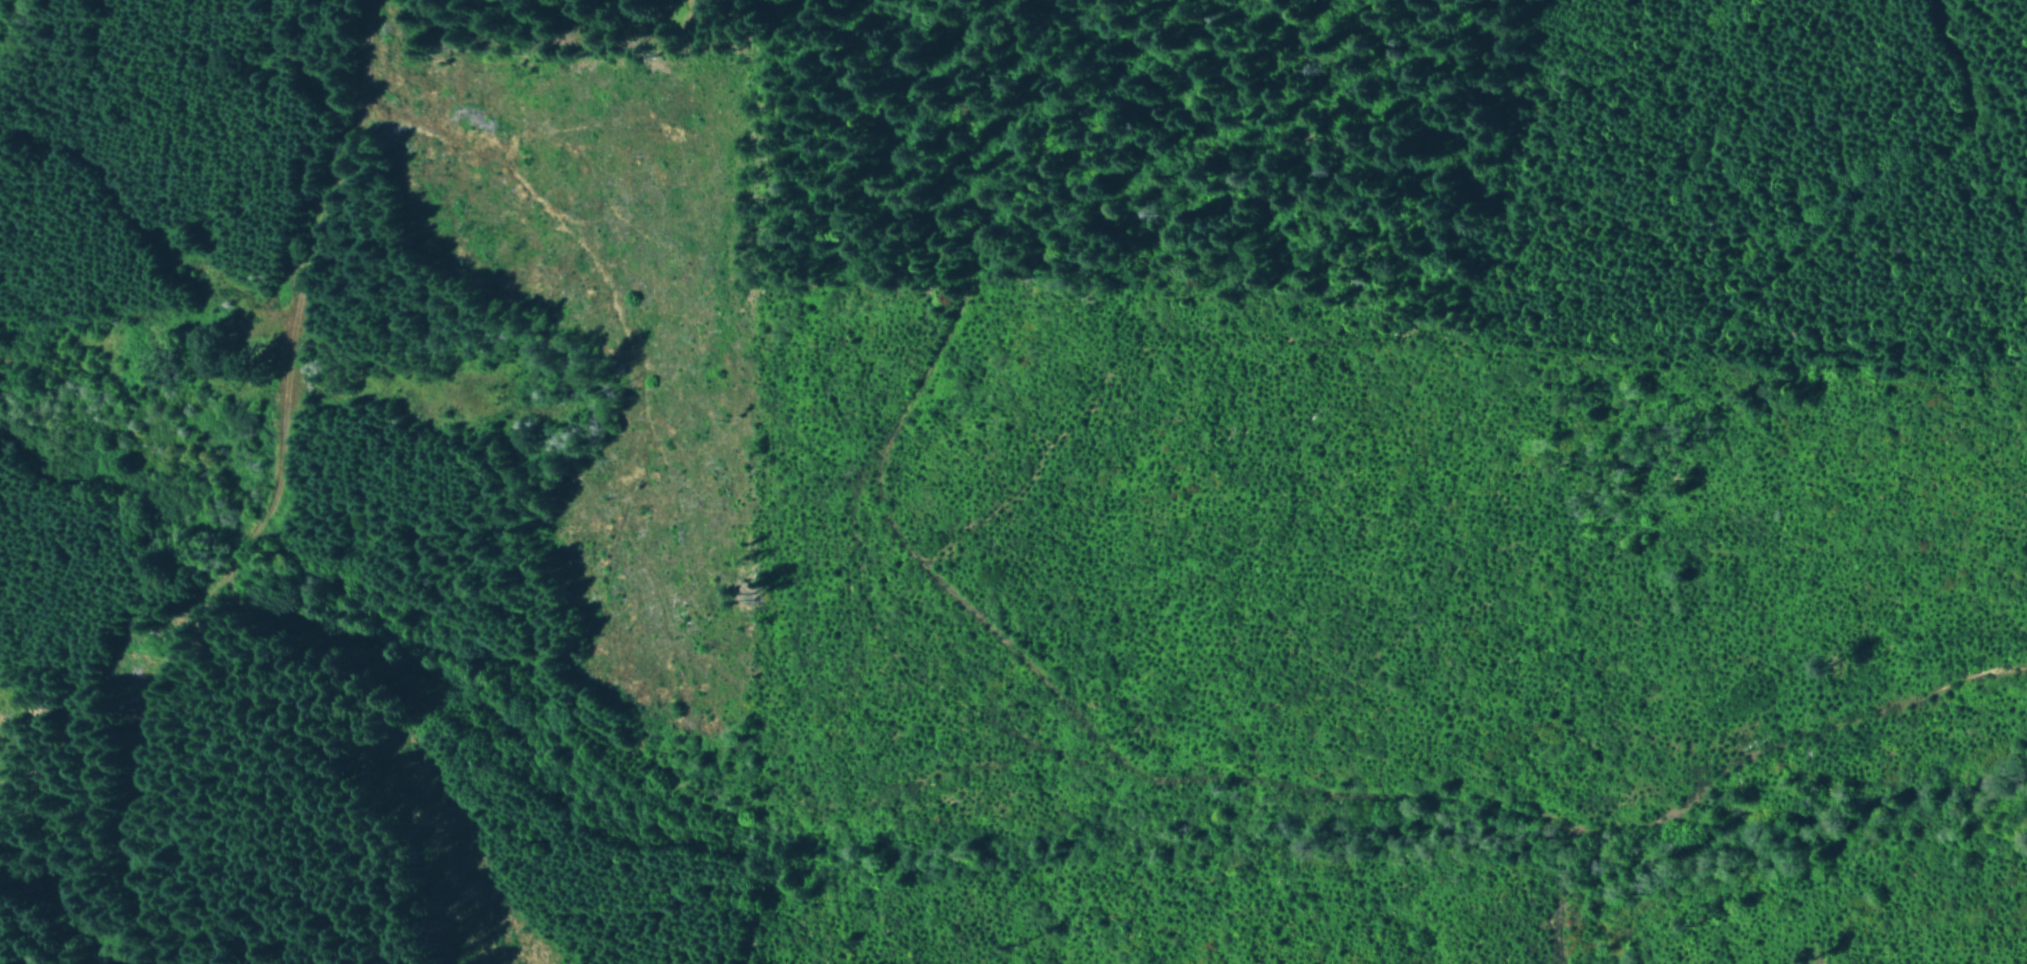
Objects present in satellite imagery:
road: (255, 560)
road: (874, 776)

